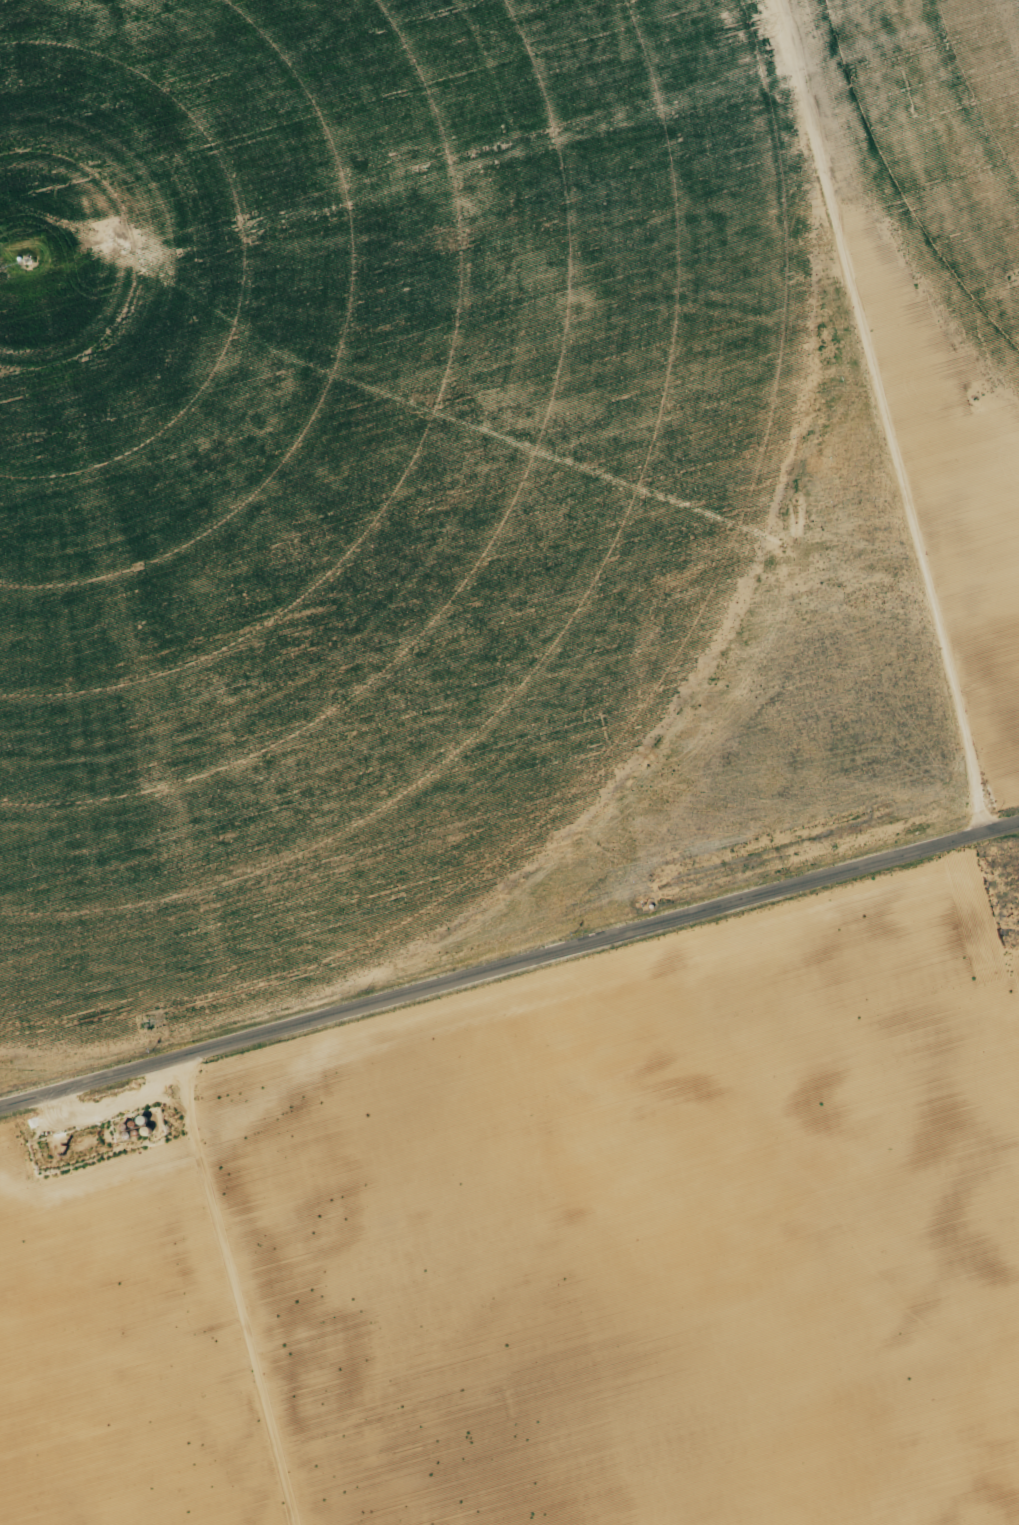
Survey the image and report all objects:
road: (509, 969)
road: (253, 1291)

